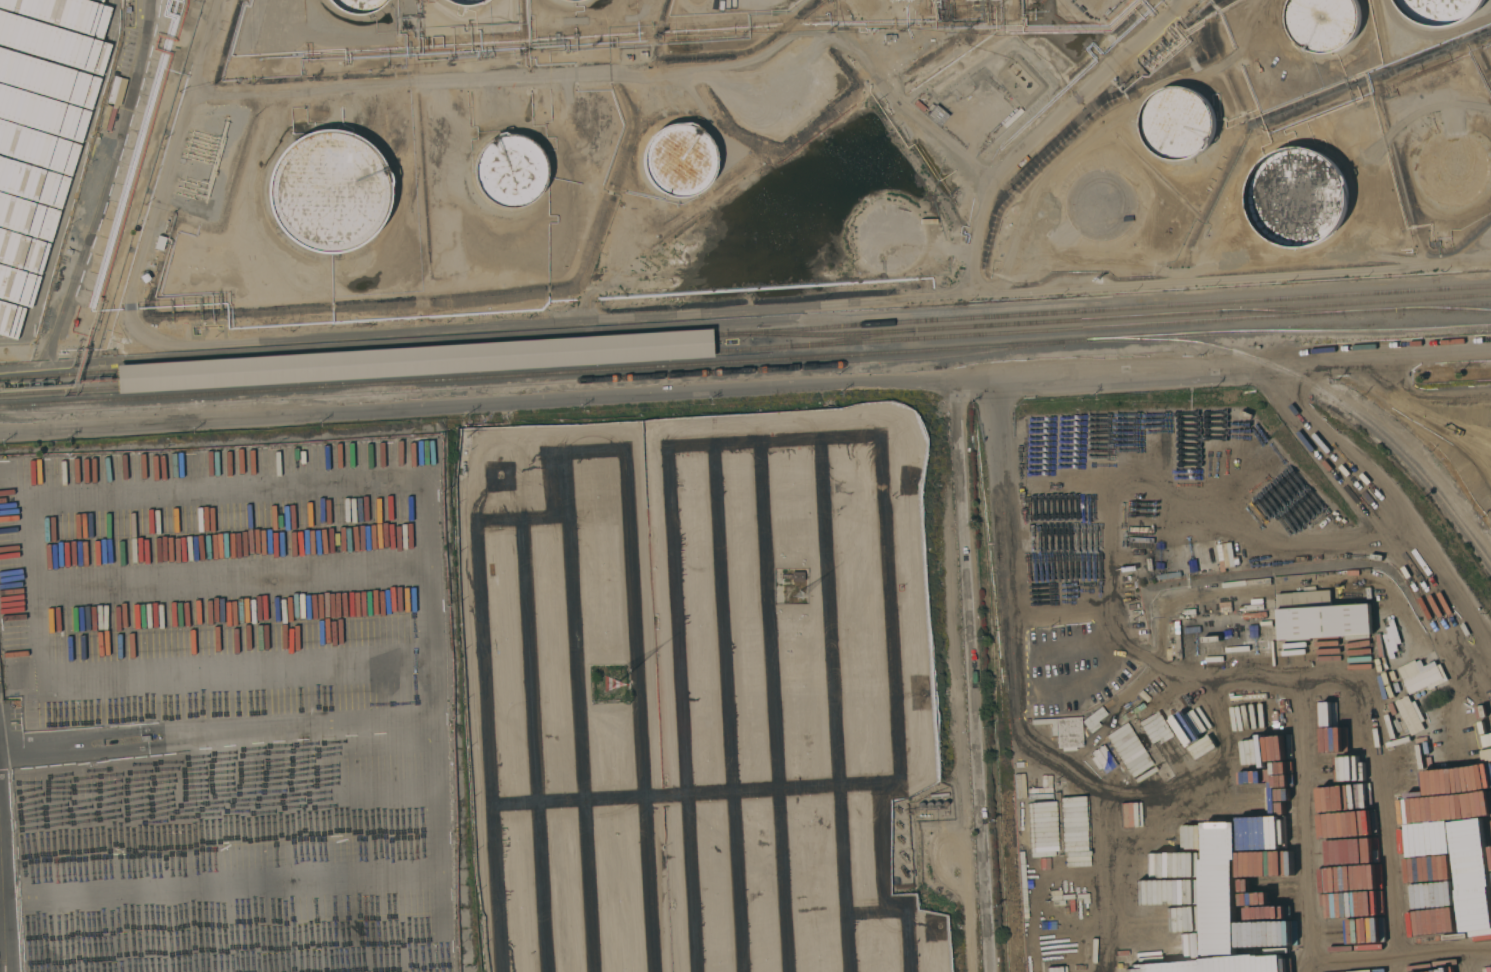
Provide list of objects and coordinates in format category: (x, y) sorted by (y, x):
building: (572, 0)
building: (465, 2)
building: (356, 5)
building: (1440, 11)
building: (1323, 23)
building: (985, 78)
road: (1048, 122)
building: (1178, 123)
building: (40, 132)
building: (678, 160)
building: (1454, 169)
building: (509, 170)
building: (328, 191)
building: (1297, 197)
building: (1100, 204)
road: (1221, 278)
railway: (1449, 309)
railway: (1112, 318)
railway: (745, 333)
railway: (745, 350)
railway: (1246, 356)
building: (415, 361)
railway: (745, 361)
railway: (529, 382)
road: (745, 394)
railway: (1438, 493)
road: (995, 494)
road: (24, 516)
road: (1239, 524)
building: (797, 576)
building: (1320, 616)
building: (1391, 638)
building: (13, 664)
road: (1275, 668)
building: (1421, 675)
road: (972, 676)
road: (1070, 694)
building: (1068, 732)
road: (175, 735)
building: (144, 738)
road: (36, 748)
building: (482, 773)
building: (938, 794)
building: (944, 803)
building: (928, 804)
building: (936, 804)
building: (920, 805)
building: (490, 836)
road: (402, 847)
road: (209, 852)
building: (1041, 853)
building: (523, 859)
road: (1, 941)
road: (659, 947)

